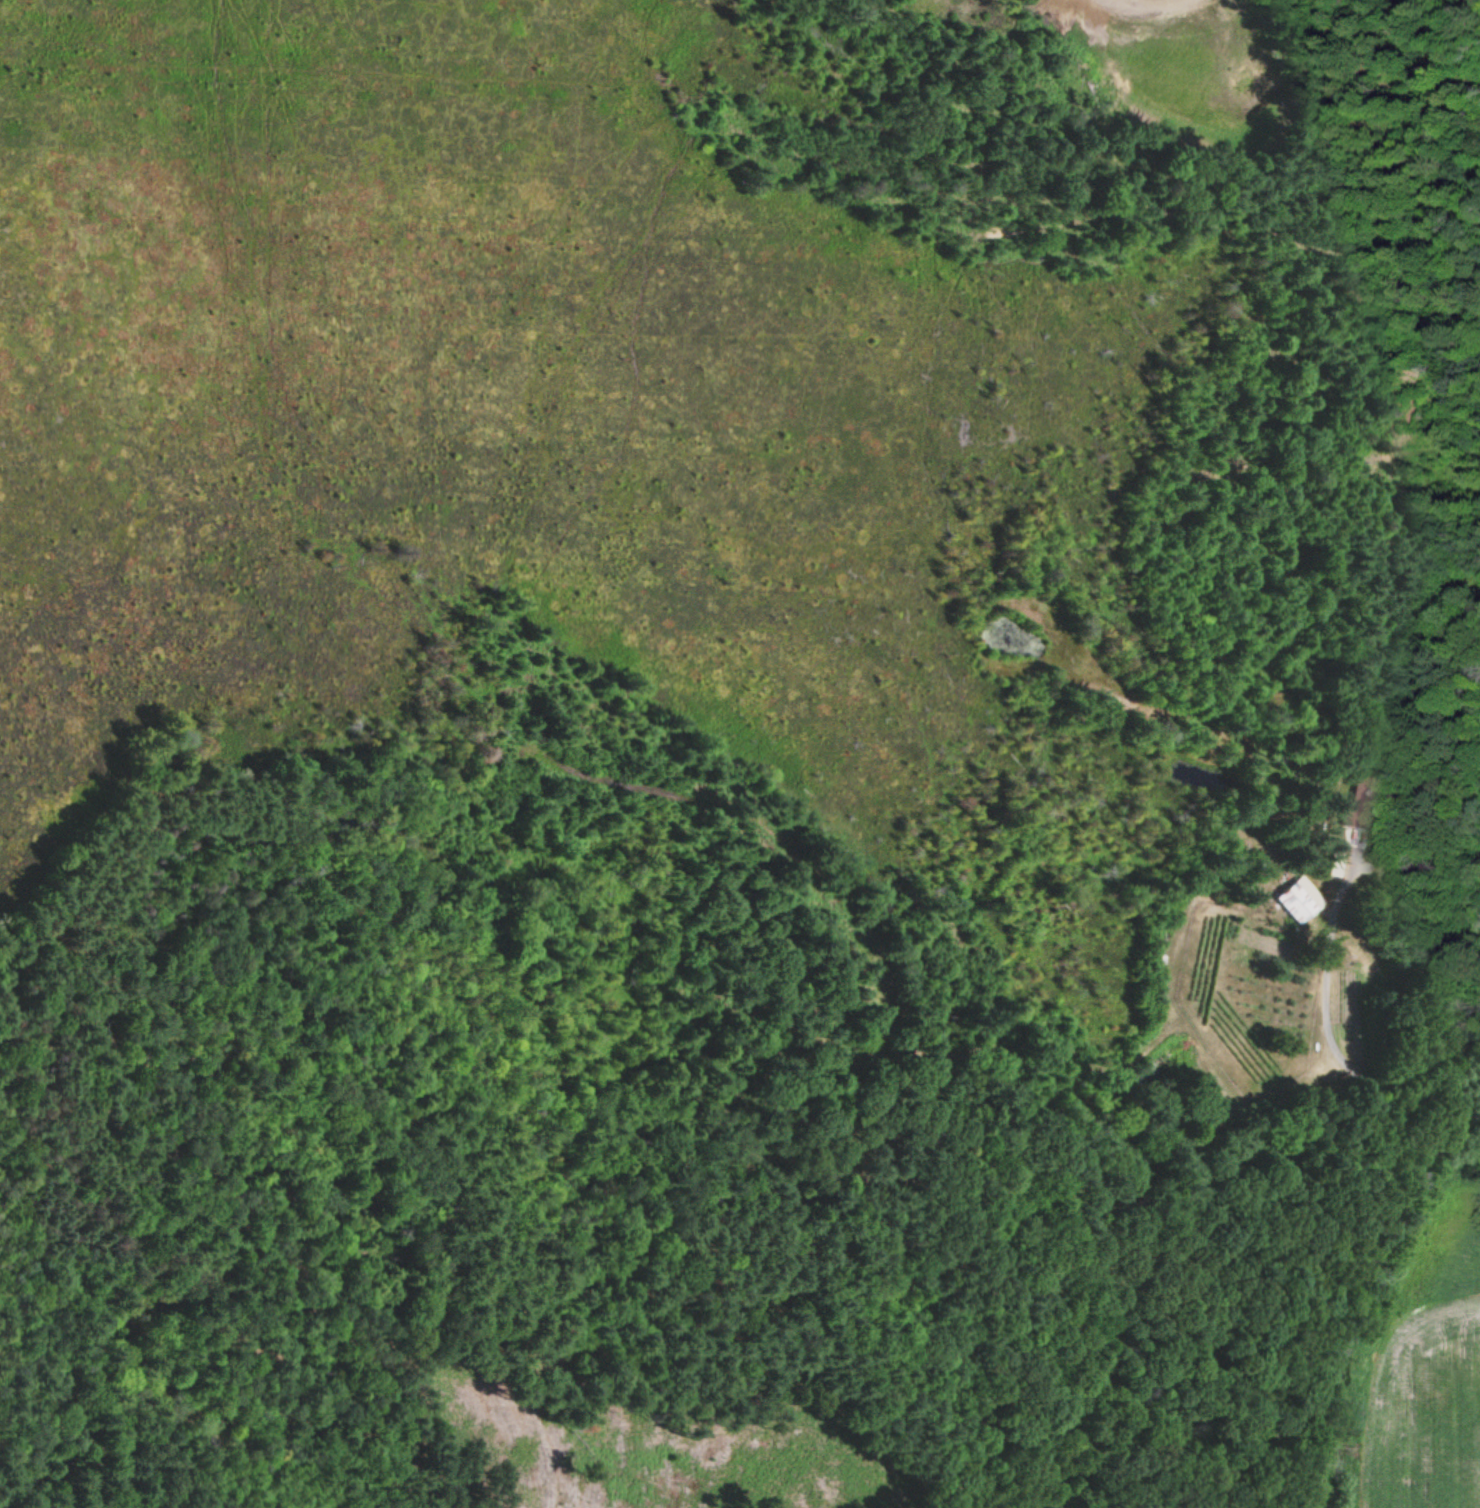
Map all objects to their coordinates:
building: (1355, 803)
building: (1289, 903)
road: (1322, 1031)

